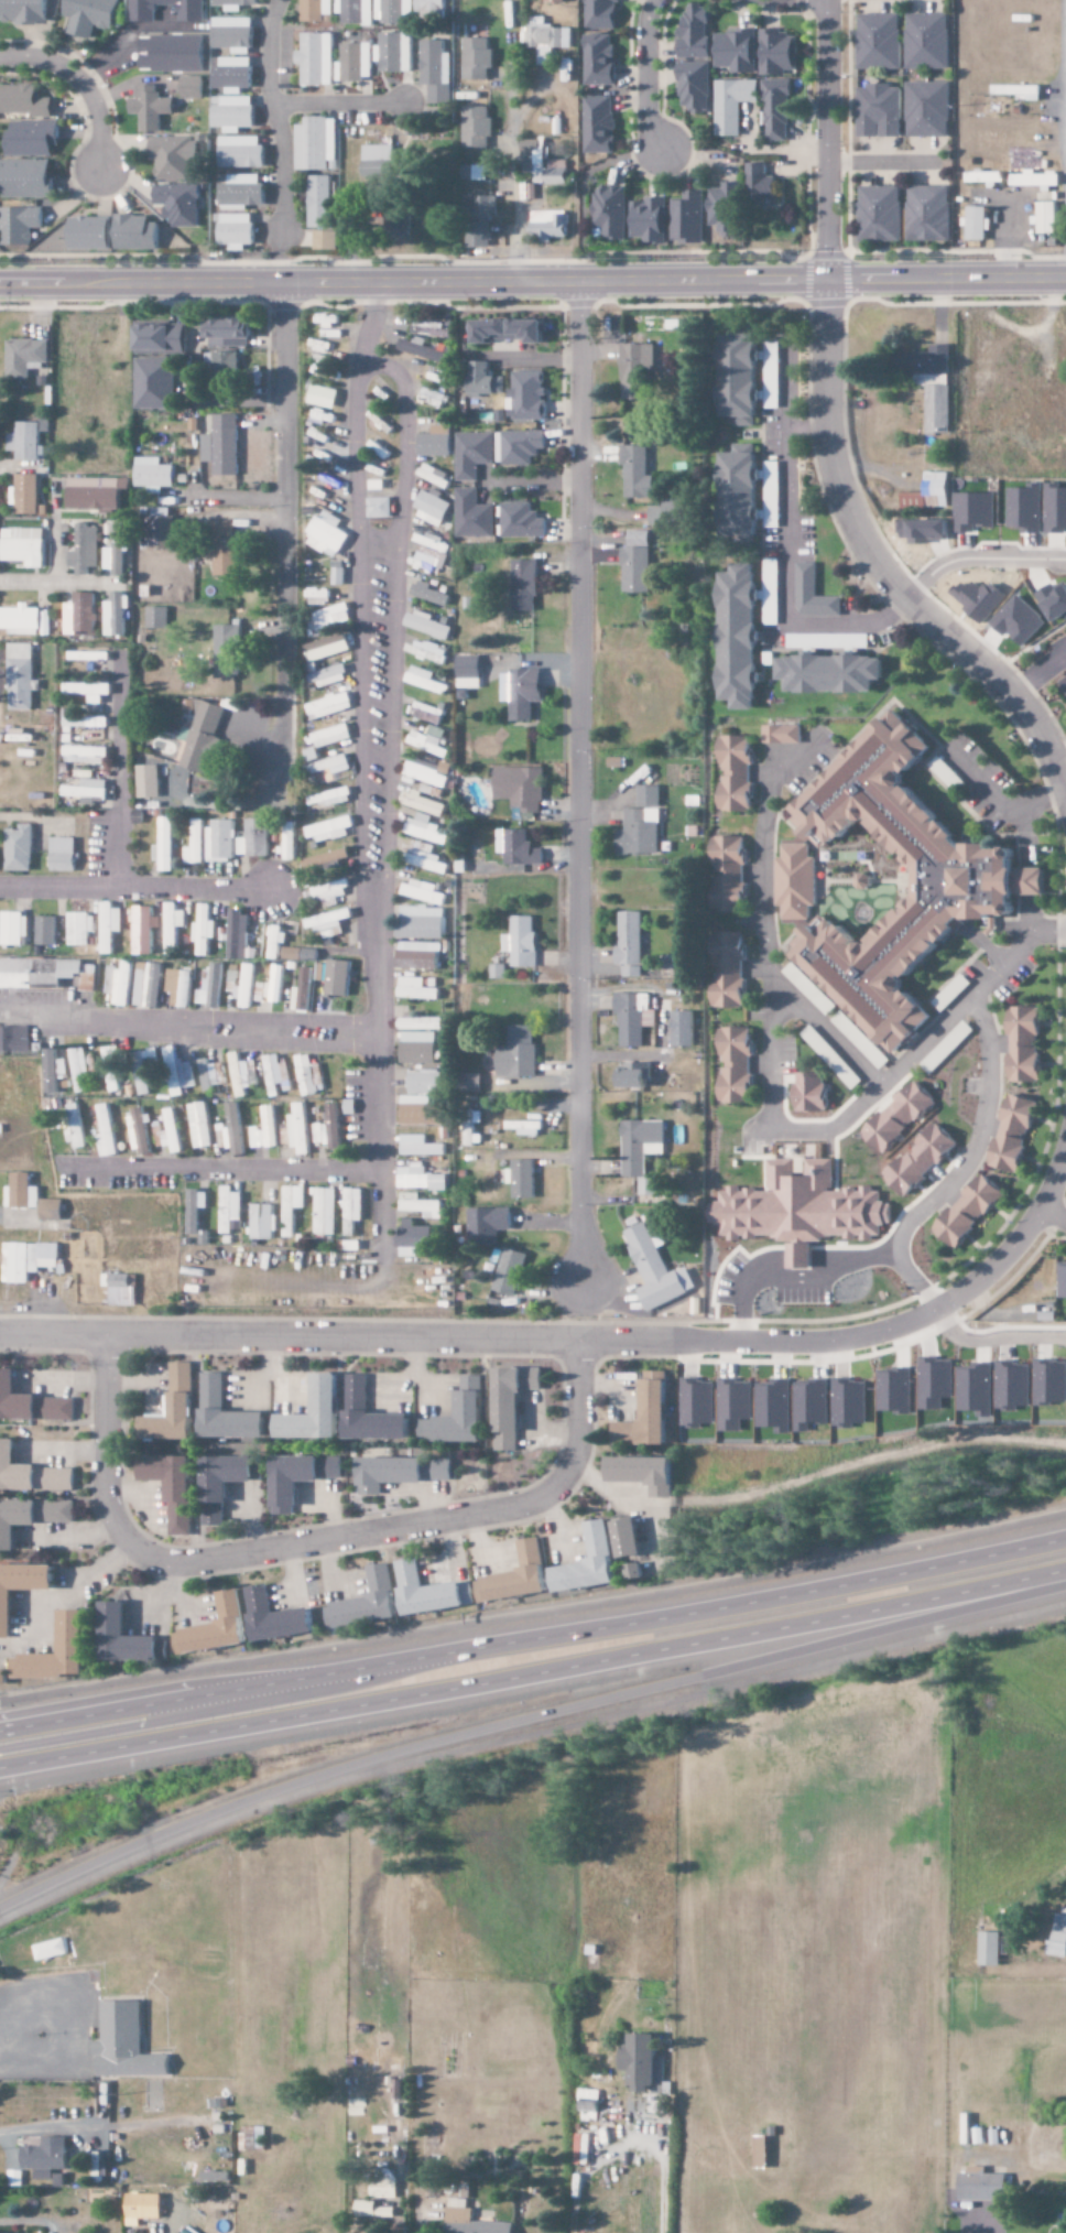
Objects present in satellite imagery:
building: (555, 1)
building: (235, 4)
building: (431, 7)
building: (316, 10)
building: (24, 11)
building: (393, 11)
building: (356, 12)
building: (143, 14)
building: (597, 14)
building: (91, 15)
building: (690, 32)
building: (232, 34)
building: (546, 39)
building: (874, 42)
building: (924, 42)
building: (395, 52)
building: (732, 52)
building: (775, 53)
building: (172, 54)
building: (316, 59)
building: (477, 59)
building: (596, 59)
building: (355, 63)
building: (232, 73)
road: (644, 73)
road: (78, 83)
building: (193, 87)
building: (690, 87)
building: (23, 101)
road: (335, 105)
building: (729, 105)
building: (148, 107)
building: (773, 110)
building: (924, 110)
building: (875, 111)
building: (235, 112)
road: (272, 115)
building: (595, 126)
road: (1065, 126)
building: (476, 127)
building: (33, 139)
building: (316, 144)
building: (241, 153)
building: (172, 158)
building: (533, 160)
building: (378, 161)
building: (476, 173)
building: (28, 178)
building: (753, 184)
building: (242, 191)
building: (319, 203)
building: (180, 205)
building: (481, 208)
building: (724, 210)
building: (610, 212)
building: (875, 214)
building: (924, 214)
building: (1043, 214)
building: (688, 216)
building: (650, 219)
building: (402, 224)
building: (548, 225)
building: (971, 225)
building: (20, 226)
building: (236, 230)
building: (90, 234)
building: (137, 234)
building: (478, 239)
building: (325, 240)
road: (533, 278)
road: (367, 316)
building: (323, 319)
building: (428, 328)
building: (509, 329)
building: (230, 330)
building: (327, 333)
building: (161, 338)
building: (316, 345)
building: (424, 350)
building: (25, 356)
building: (322, 359)
building: (224, 369)
building: (637, 369)
building: (319, 371)
building: (485, 379)
building: (155, 383)
building: (318, 395)
building: (529, 395)
building: (318, 415)
building: (630, 433)
building: (314, 434)
building: (28, 441)
road: (826, 441)
building: (436, 442)
building: (222, 445)
building: (519, 446)
building: (315, 453)
building: (472, 454)
building: (638, 473)
building: (154, 474)
building: (325, 476)
building: (314, 491)
building: (28, 494)
building: (95, 494)
building: (741, 494)
building: (929, 494)
building: (770, 495)
building: (378, 508)
building: (432, 509)
building: (975, 510)
building: (671, 513)
building: (474, 514)
building: (522, 521)
road: (283, 523)
building: (324, 533)
building: (24, 545)
building: (85, 549)
building: (225, 549)
building: (117, 551)
building: (637, 562)
building: (334, 564)
building: (333, 573)
building: (524, 585)
building: (314, 592)
building: (429, 594)
building: (814, 594)
building: (80, 614)
building: (116, 615)
building: (328, 615)
building: (156, 617)
building: (24, 620)
building: (426, 625)
building: (747, 627)
road: (392, 638)
building: (320, 644)
road: (359, 649)
building: (228, 650)
building: (426, 651)
building: (89, 655)
building: (468, 672)
building: (831, 672)
building: (324, 674)
building: (20, 676)
building: (424, 680)
building: (89, 691)
building: (522, 692)
building: (185, 704)
building: (326, 705)
building: (427, 713)
building: (326, 734)
building: (783, 734)
building: (199, 739)
building: (429, 740)
building: (86, 755)
building: (307, 755)
building: (326, 763)
road: (117, 770)
building: (428, 771)
building: (737, 773)
road: (578, 778)
building: (143, 781)
building: (521, 788)
building: (87, 789)
building: (649, 796)
building: (324, 799)
building: (424, 803)
building: (326, 828)
building: (424, 828)
building: (640, 832)
building: (252, 838)
building: (285, 839)
building: (218, 841)
building: (194, 844)
building: (162, 845)
building: (518, 847)
building: (19, 848)
building: (63, 854)
building: (322, 858)
building: (425, 858)
building: (966, 864)
building: (731, 874)
road: (132, 889)
building: (327, 890)
building: (423, 892)
building: (326, 922)
building: (422, 922)
building: (106, 925)
building: (11, 928)
building: (77, 928)
building: (170, 928)
building: (141, 929)
building: (200, 929)
building: (43, 930)
building: (233, 934)
building: (272, 940)
building: (522, 941)
building: (630, 943)
building: (418, 955)
building: (731, 969)
building: (317, 972)
building: (35, 973)
building: (229, 975)
building: (84, 978)
building: (106, 978)
building: (336, 978)
building: (166, 980)
building: (144, 984)
building: (213, 984)
building: (118, 985)
building: (243, 985)
building: (273, 985)
building: (178, 987)
building: (416, 988)
building: (257, 989)
building: (300, 989)
building: (199, 997)
building: (633, 1019)
road: (187, 1023)
building: (417, 1023)
building: (684, 1029)
building: (14, 1039)
building: (1025, 1044)
building: (418, 1048)
building: (519, 1053)
building: (737, 1065)
building: (79, 1070)
building: (113, 1070)
building: (51, 1072)
building: (178, 1072)
building: (209, 1074)
building: (241, 1074)
building: (275, 1074)
building: (635, 1075)
building: (471, 1082)
building: (146, 1083)
building: (812, 1092)
road: (374, 1097)
building: (423, 1099)
building: (899, 1117)
building: (235, 1123)
building: (200, 1125)
building: (76, 1127)
building: (524, 1127)
building: (328, 1128)
building: (105, 1129)
building: (300, 1129)
building: (265, 1130)
building: (140, 1131)
building: (170, 1132)
building: (1014, 1134)
building: (421, 1146)
building: (641, 1150)
building: (922, 1159)
road: (217, 1167)
building: (420, 1179)
building: (523, 1179)
building: (22, 1192)
building: (353, 1204)
building: (420, 1205)
building: (292, 1207)
building: (196, 1208)
building: (52, 1210)
building: (230, 1210)
building: (801, 1210)
building: (325, 1211)
building: (969, 1212)
road: (1051, 1215)
building: (488, 1225)
building: (414, 1238)
building: (29, 1260)
building: (654, 1268)
building: (511, 1271)
building: (1063, 1279)
road: (585, 1340)
building: (1049, 1383)
building: (936, 1384)
building: (1012, 1386)
building: (976, 1389)
building: (895, 1391)
building: (471, 1396)
building: (31, 1402)
building: (513, 1402)
building: (697, 1402)
building: (849, 1403)
building: (733, 1405)
building: (811, 1405)
building: (774, 1406)
building: (175, 1407)
building: (317, 1412)
building: (228, 1413)
building: (372, 1416)
building: (648, 1418)
building: (402, 1472)
building: (31, 1473)
building: (646, 1474)
building: (301, 1477)
building: (226, 1482)
building: (175, 1488)
building: (30, 1517)
building: (630, 1538)
road: (308, 1542)
building: (590, 1562)
building: (518, 1576)
building: (21, 1590)
building: (431, 1592)
building: (367, 1602)
building: (276, 1617)
building: (216, 1628)
building: (74, 1633)
building: (127, 1637)
road: (534, 1639)
building: (3, 1678)
road: (534, 1679)
road: (221, 1710)
road: (524, 1719)
building: (1059, 1937)
building: (990, 1949)
building: (126, 2045)
building: (645, 2066)
building: (588, 2112)
building: (252, 2138)
building: (761, 2153)
building: (46, 2158)
building: (216, 2177)
building: (982, 2186)
building: (370, 2210)
building: (174, 2211)
building: (471, 2220)

